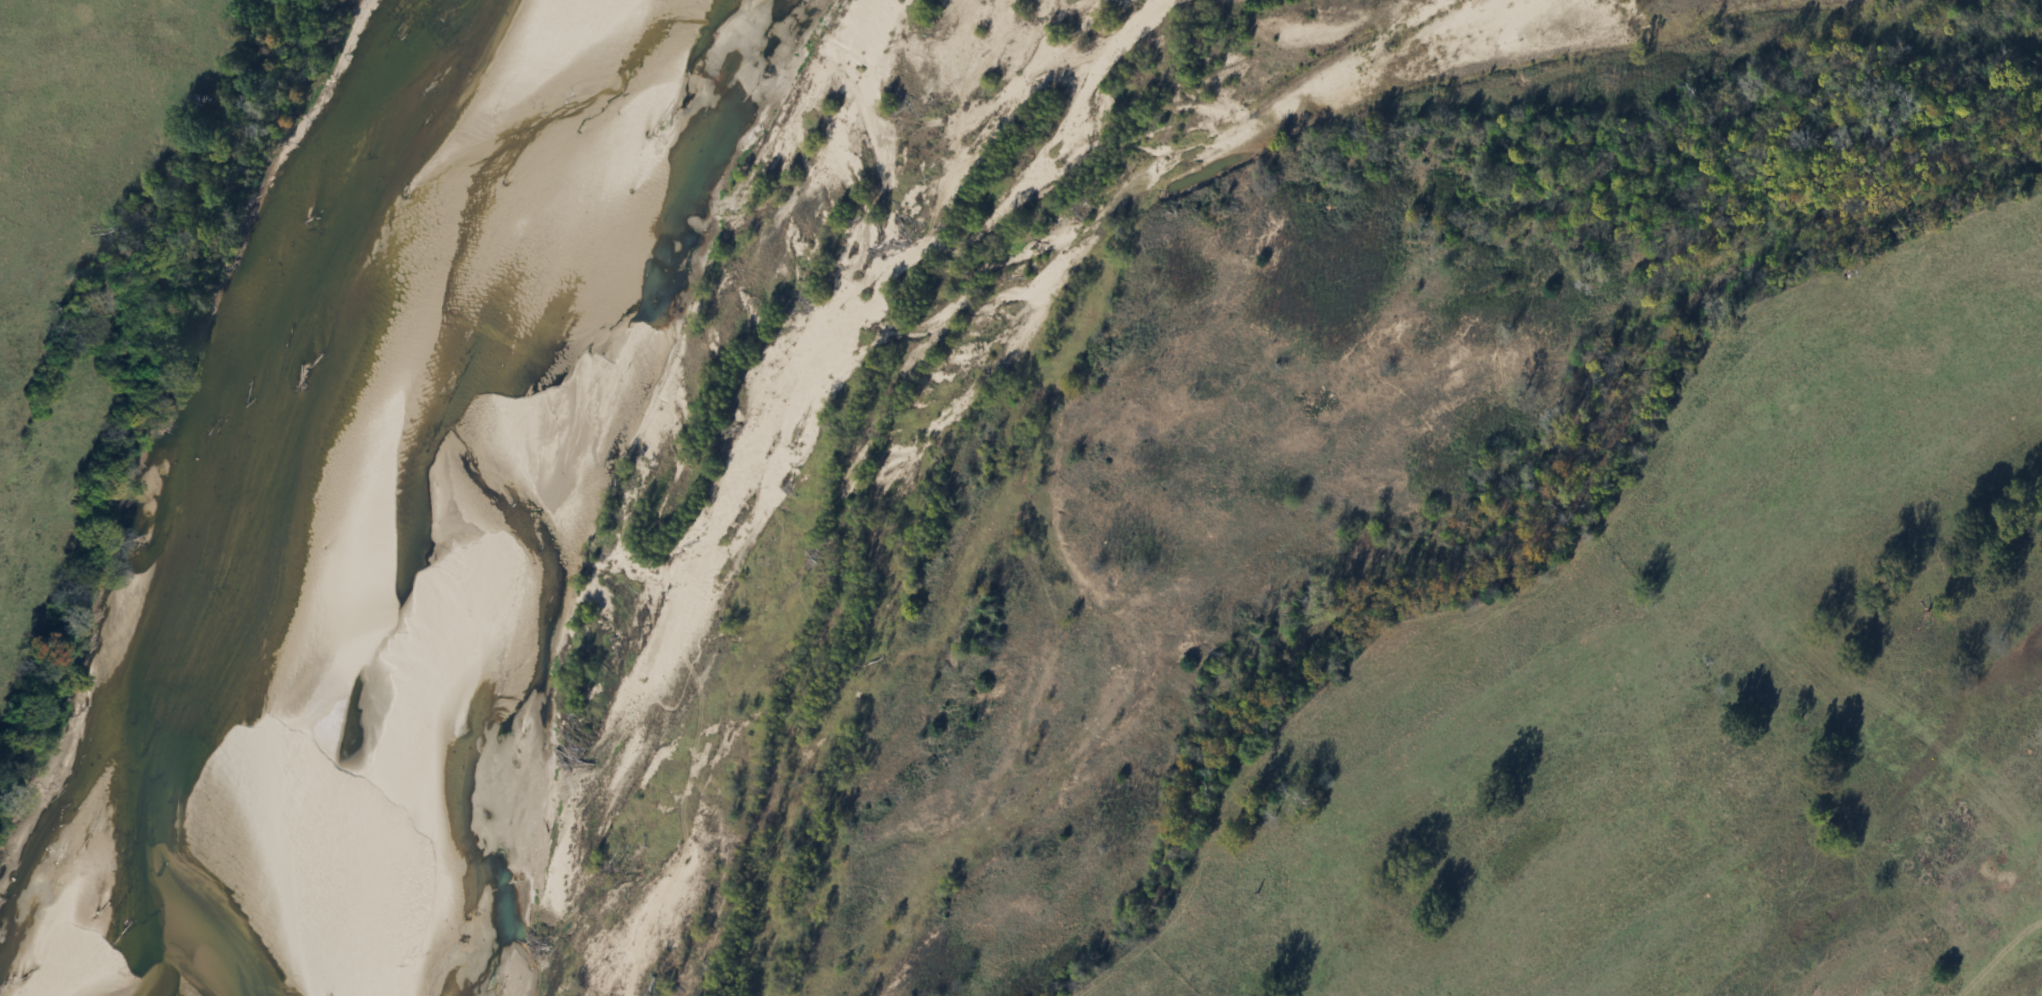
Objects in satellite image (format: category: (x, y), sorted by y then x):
river: (284, 472)

